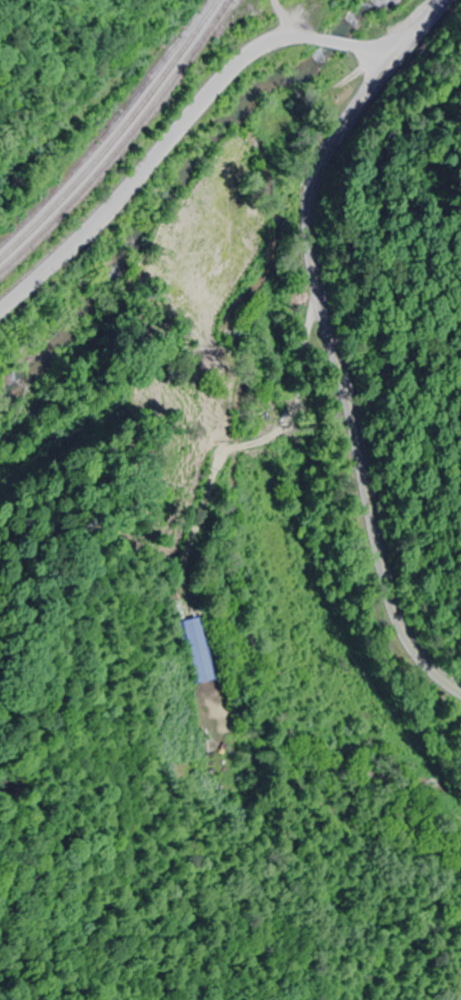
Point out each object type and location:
road: (284, 16)
road: (421, 31)
road: (179, 126)
railway: (114, 136)
road: (343, 377)
building: (192, 648)

